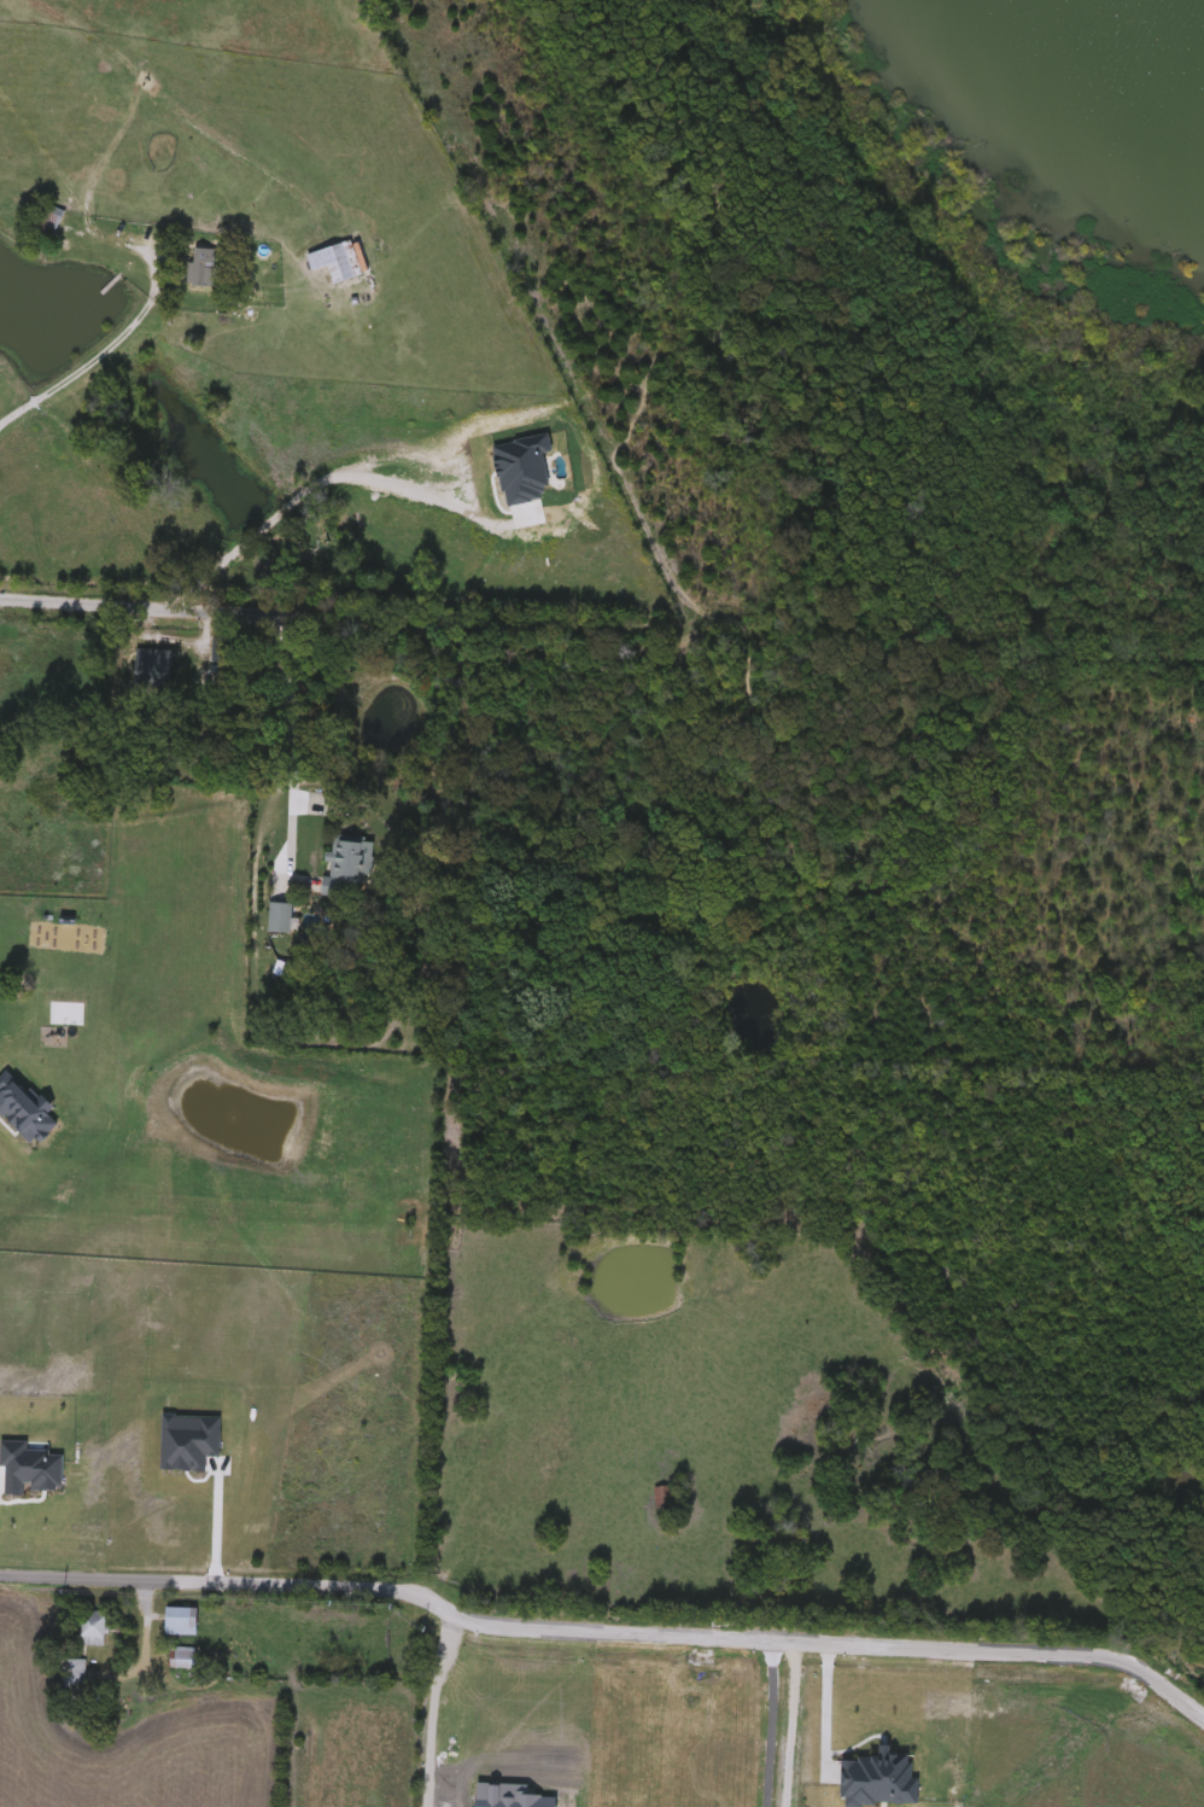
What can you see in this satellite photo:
road: (136, 95)
building: (48, 225)
building: (337, 263)
building: (203, 270)
road: (129, 333)
road: (306, 494)
road: (214, 612)
building: (221, 652)
road: (290, 747)
building: (345, 870)
park: (870, 1009)
building: (665, 1500)
road: (217, 1520)
building: (180, 1625)
road: (146, 1626)
road: (606, 1628)
building: (94, 1632)
building: (183, 1661)
building: (74, 1675)
road: (432, 1704)
road: (831, 1706)
road: (768, 1721)
road: (790, 1721)

